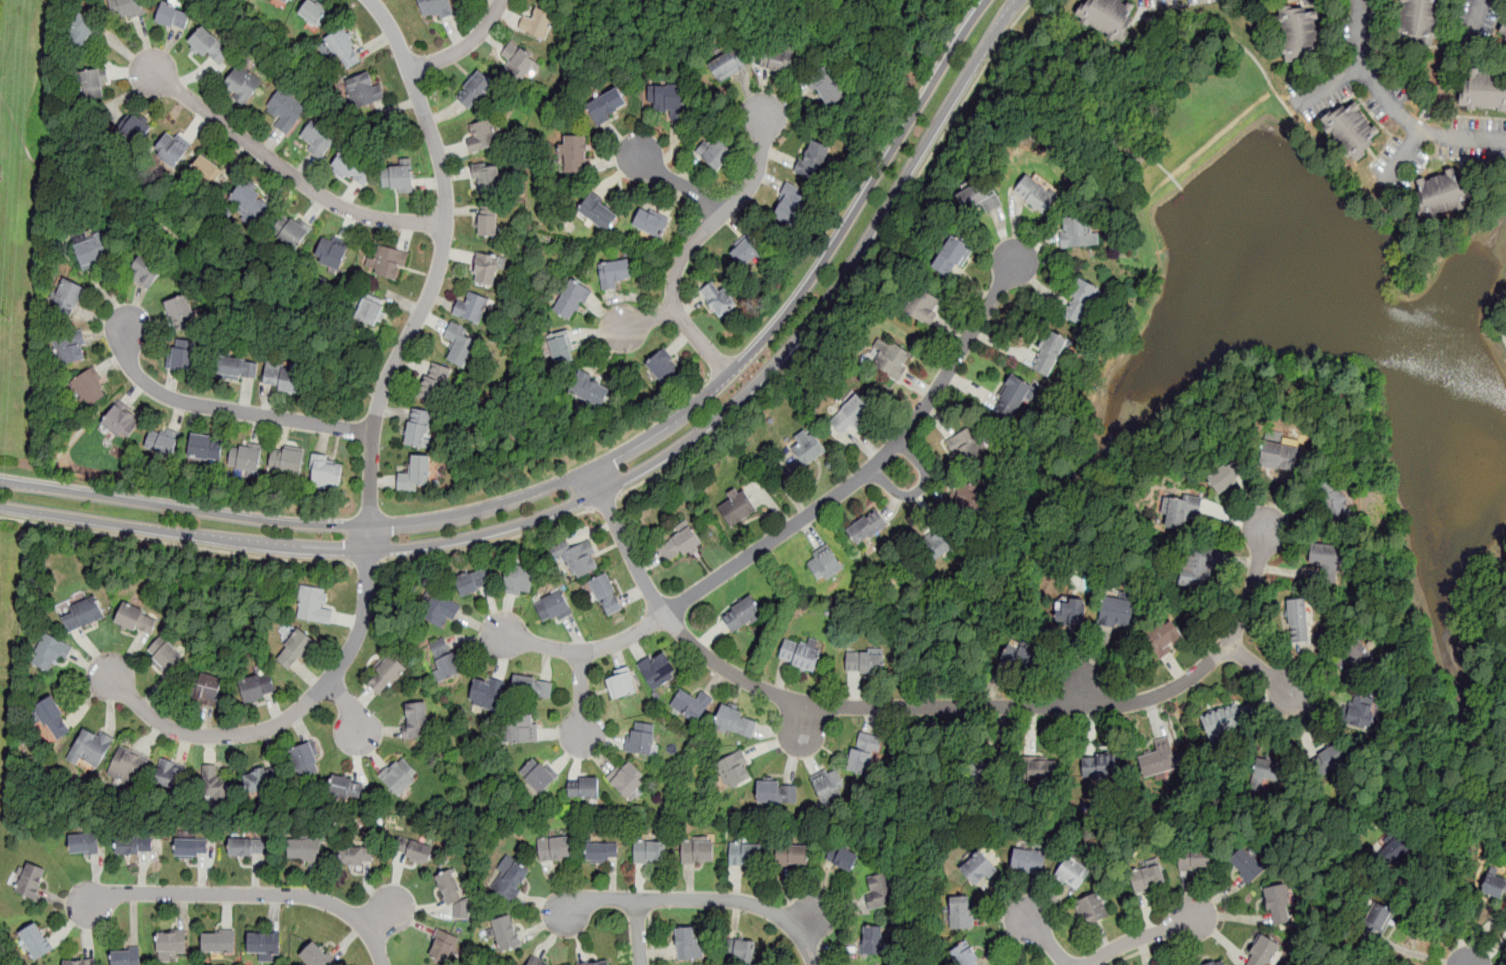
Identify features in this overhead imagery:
building: (284, 1)
road: (957, 2)
building: (434, 8)
building: (125, 9)
building: (313, 14)
road: (1475, 16)
building: (172, 17)
building: (1109, 17)
building: (1419, 20)
building: (537, 24)
building: (1503, 29)
building: (84, 30)
building: (1301, 34)
road: (464, 46)
building: (210, 47)
building: (344, 49)
road: (1019, 50)
building: (777, 60)
building: (518, 61)
building: (727, 65)
building: (242, 84)
building: (92, 85)
road: (1332, 85)
building: (826, 88)
building: (474, 89)
building: (363, 91)
building: (1484, 91)
building: (668, 98)
building: (608, 106)
road: (1397, 106)
building: (285, 108)
road: (1305, 128)
building: (1350, 129)
building: (136, 130)
building: (482, 135)
building: (317, 138)
building: (171, 150)
building: (714, 151)
building: (577, 153)
road: (1403, 156)
building: (811, 158)
road: (281, 166)
building: (353, 169)
building: (205, 170)
building: (398, 177)
building: (487, 178)
road: (680, 184)
building: (1035, 193)
building: (1439, 193)
building: (978, 197)
building: (245, 202)
building: (791, 204)
building: (599, 211)
building: (489, 221)
building: (650, 222)
building: (1078, 231)
building: (291, 233)
road: (183, 239)
road: (693, 241)
building: (745, 248)
building: (92, 250)
building: (332, 251)
building: (952, 256)
road: (439, 260)
building: (387, 263)
building: (485, 269)
building: (145, 272)
building: (614, 273)
road: (857, 275)
building: (68, 295)
building: (716, 297)
building: (1079, 300)
building: (572, 301)
building: (923, 306)
building: (471, 308)
building: (371, 311)
road: (1500, 313)
building: (181, 314)
power tower: (3, 319)
road: (646, 320)
building: (458, 347)
building: (72, 348)
building: (561, 348)
building: (1049, 353)
building: (181, 360)
building: (893, 361)
building: (663, 368)
building: (238, 369)
building: (283, 377)
building: (433, 384)
building: (89, 389)
building: (589, 390)
building: (1011, 398)
road: (222, 408)
building: (850, 416)
building: (121, 422)
building: (419, 429)
building: (966, 444)
building: (161, 445)
building: (203, 448)
building: (806, 448)
building: (1278, 457)
building: (244, 459)
building: (287, 460)
road: (600, 463)
road: (870, 465)
building: (327, 473)
building: (415, 473)
building: (1227, 475)
road: (620, 481)
road: (918, 493)
building: (965, 500)
road: (606, 502)
building: (1334, 504)
building: (736, 508)
building: (1181, 509)
building: (866, 528)
building: (935, 542)
building: (678, 543)
road: (176, 544)
road: (488, 544)
building: (1324, 556)
building: (582, 560)
road: (367, 564)
building: (823, 564)
building: (1198, 566)
building: (518, 581)
building: (473, 584)
building: (606, 595)
building: (313, 605)
building: (1073, 607)
building: (553, 608)
building: (442, 612)
building: (1116, 612)
building: (741, 614)
building: (83, 615)
building: (136, 619)
building: (1298, 619)
building: (1164, 637)
building: (295, 649)
road: (582, 652)
building: (54, 653)
building: (1017, 653)
building: (165, 655)
building: (798, 655)
building: (1359, 655)
building: (444, 659)
building: (861, 663)
road: (1485, 667)
building: (657, 669)
road: (1261, 672)
building: (386, 675)
building: (621, 683)
building: (257, 687)
building: (206, 688)
building: (532, 688)
building: (486, 692)
road: (581, 701)
building: (690, 706)
road: (351, 707)
road: (924, 708)
building: (1361, 709)
road: (292, 715)
building: (53, 719)
building: (416, 720)
building: (1223, 720)
building: (736, 722)
building: (522, 728)
road: (1360, 735)
building: (641, 739)
building: (90, 748)
building: (863, 756)
building: (1157, 759)
building: (305, 760)
building: (1330, 761)
building: (1102, 765)
building: (987, 766)
building: (128, 767)
building: (1266, 769)
building: (735, 770)
building: (1041, 770)
building: (538, 774)
building: (169, 776)
building: (399, 776)
building: (627, 780)
building: (263, 781)
building: (213, 785)
building: (828, 786)
building: (346, 787)
building: (583, 788)
building: (776, 792)
building: (83, 843)
building: (1397, 843)
building: (133, 845)
building: (191, 847)
building: (247, 847)
building: (304, 849)
building: (697, 849)
building: (554, 850)
building: (413, 851)
building: (650, 851)
building: (600, 852)
building: (746, 854)
building: (356, 855)
building: (792, 855)
building: (842, 857)
building: (1194, 859)
building: (1027, 861)
building: (1246, 864)
building: (977, 869)
building: (1072, 874)
building: (1147, 876)
building: (511, 878)
building: (30, 879)
building: (1494, 885)
building: (449, 887)
building: (879, 889)
road: (247, 894)
road: (699, 901)
building: (1278, 904)
building: (1092, 910)
building: (961, 913)
road: (1440, 914)
building: (1379, 915)
road: (639, 932)
building: (506, 933)
road: (1143, 937)
road: (652, 938)
building: (872, 938)
road: (1043, 939)
building: (35, 940)
building: (219, 940)
building: (170, 943)
building: (264, 943)
building: (687, 943)
building: (442, 945)
road: (1147, 949)
building: (740, 950)
building: (1261, 951)
building: (317, 955)
building: (965, 955)
building: (127, 956)
building: (79, 962)
building: (536, 962)
building: (1214, 962)
building: (600, 963)
building: (1171, 964)

